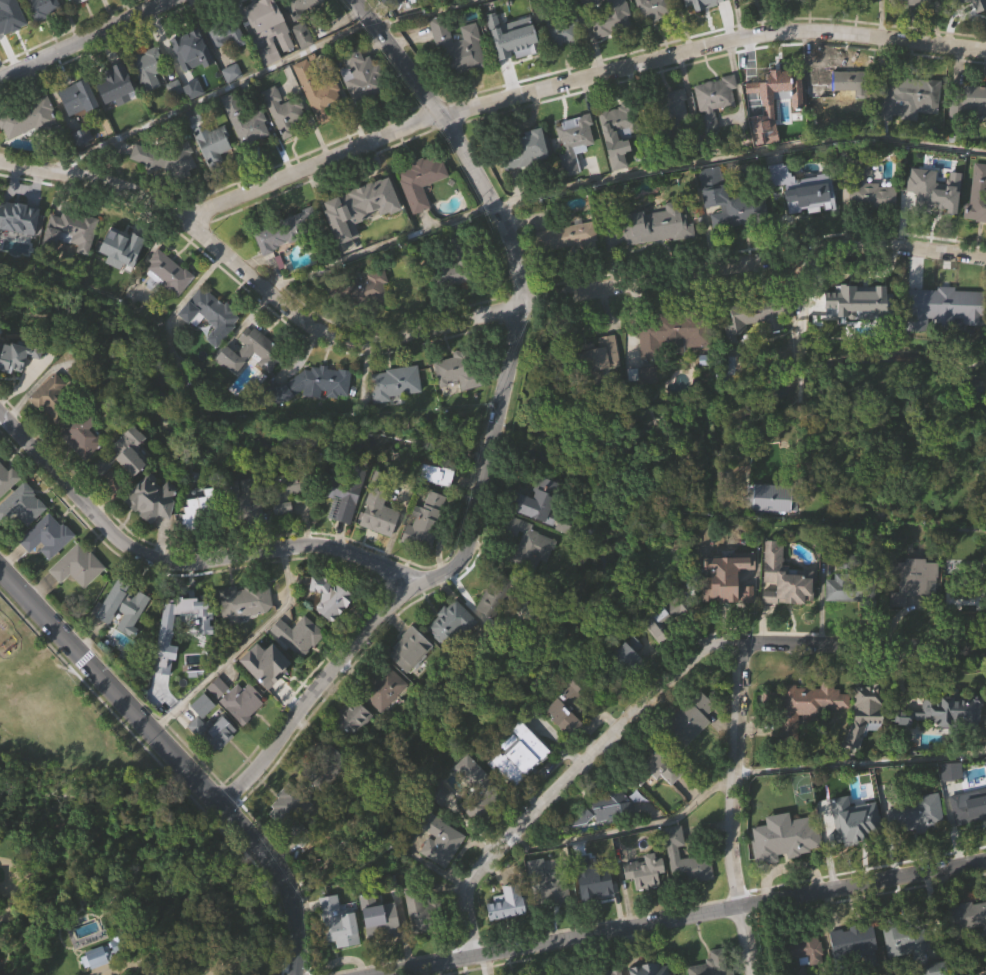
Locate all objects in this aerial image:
building: (752, 0)
building: (76, 2)
building: (918, 2)
building: (388, 5)
building: (509, 5)
building: (115, 6)
building: (300, 7)
building: (428, 7)
building: (694, 7)
building: (980, 7)
building: (41, 8)
building: (654, 9)
building: (809, 10)
building: (867, 13)
building: (78, 16)
building: (909, 16)
building: (610, 17)
building: (263, 21)
building: (586, 21)
building: (963, 21)
building: (10, 22)
building: (40, 28)
building: (558, 28)
building: (305, 29)
building: (655, 33)
building: (227, 35)
building: (516, 39)
building: (11, 42)
building: (612, 42)
road: (93, 43)
building: (187, 44)
building: (266, 45)
building: (457, 47)
building: (561, 60)
building: (228, 64)
building: (148, 67)
building: (513, 67)
road: (249, 73)
building: (362, 76)
building: (459, 76)
building: (192, 78)
road: (574, 80)
building: (842, 83)
building: (116, 86)
building: (318, 91)
building: (779, 91)
building: (908, 95)
building: (77, 97)
building: (150, 97)
building: (973, 99)
building: (714, 102)
building: (360, 104)
building: (671, 109)
building: (283, 111)
building: (842, 113)
building: (118, 114)
building: (176, 116)
building: (28, 118)
building: (194, 118)
building: (319, 120)
building: (246, 121)
building: (79, 126)
building: (715, 128)
building: (909, 128)
building: (618, 129)
building: (969, 129)
building: (675, 137)
building: (286, 141)
building: (575, 142)
building: (212, 143)
building: (30, 147)
building: (525, 149)
building: (246, 150)
building: (165, 158)
building: (83, 164)
building: (617, 164)
building: (575, 171)
building: (214, 172)
road: (617, 177)
building: (421, 181)
building: (527, 182)
building: (166, 186)
building: (868, 190)
building: (810, 194)
building: (977, 196)
building: (357, 200)
building: (732, 202)
building: (422, 210)
building: (20, 215)
building: (802, 216)
building: (870, 219)
building: (935, 219)
building: (655, 225)
building: (977, 225)
building: (70, 232)
building: (278, 234)
building: (734, 236)
building: (360, 237)
building: (567, 237)
building: (5, 245)
building: (123, 255)
building: (658, 255)
building: (71, 261)
building: (279, 266)
building: (568, 267)
building: (169, 273)
building: (445, 274)
building: (123, 277)
building: (364, 288)
building: (170, 302)
building: (858, 308)
building: (947, 308)
building: (209, 310)
road: (469, 316)
building: (758, 318)
building: (361, 319)
building: (674, 332)
building: (943, 336)
building: (759, 343)
building: (211, 344)
building: (20, 352)
building: (255, 352)
building: (596, 357)
building: (670, 366)
building: (460, 371)
building: (253, 380)
building: (395, 383)
building: (16, 385)
building: (314, 385)
building: (601, 385)
building: (63, 395)
building: (456, 399)
building: (649, 404)
building: (395, 412)
building: (313, 413)
road: (498, 433)
building: (84, 435)
building: (124, 451)
building: (83, 465)
building: (437, 473)
building: (7, 477)
building: (131, 479)
building: (285, 489)
building: (344, 489)
building: (149, 497)
building: (537, 499)
building: (243, 500)
building: (22, 504)
building: (380, 505)
building: (202, 509)
building: (286, 516)
building: (425, 521)
building: (344, 526)
building: (153, 527)
building: (249, 527)
building: (539, 530)
building: (23, 534)
building: (47, 536)
building: (199, 537)
building: (284, 537)
building: (528, 542)
building: (381, 545)
building: (426, 550)
building: (48, 565)
building: (77, 565)
road: (182, 565)
building: (734, 570)
building: (530, 573)
building: (788, 578)
building: (910, 579)
building: (849, 582)
building: (968, 586)
building: (79, 594)
building: (501, 595)
building: (329, 596)
building: (244, 601)
building: (123, 604)
building: (729, 607)
building: (786, 607)
building: (915, 609)
building: (190, 613)
building: (848, 620)
building: (659, 624)
building: (330, 626)
building: (965, 626)
building: (453, 627)
building: (245, 631)
building: (494, 631)
building: (298, 634)
building: (125, 635)
building: (667, 647)
building: (409, 648)
road: (238, 649)
building: (451, 651)
building: (626, 660)
building: (299, 664)
building: (265, 665)
building: (167, 668)
building: (411, 679)
building: (630, 681)
building: (382, 687)
road: (109, 689)
road: (659, 691)
building: (267, 692)
building: (236, 699)
building: (571, 705)
building: (805, 708)
building: (867, 710)
building: (949, 712)
building: (219, 716)
building: (385, 717)
building: (349, 719)
building: (689, 720)
building: (243, 731)
building: (213, 732)
building: (807, 734)
building: (566, 739)
building: (866, 740)
building: (946, 740)
building: (354, 746)
building: (692, 748)
building: (522, 755)
building: (215, 759)
road: (861, 763)
building: (323, 765)
building: (664, 767)
building: (952, 771)
building: (521, 783)
building: (477, 789)
building: (660, 796)
building: (443, 797)
building: (289, 805)
road: (732, 808)
building: (603, 809)
building: (968, 809)
building: (917, 814)
building: (854, 819)
road: (627, 826)
building: (968, 834)
building: (285, 835)
building: (603, 837)
building: (787, 838)
building: (440, 840)
building: (918, 845)
building: (854, 849)
building: (686, 860)
building: (441, 868)
building: (646, 871)
building: (593, 879)
building: (548, 884)
road: (278, 885)
building: (687, 888)
building: (646, 900)
building: (509, 903)
building: (424, 910)
building: (548, 910)
building: (596, 912)
building: (379, 917)
road: (682, 917)
building: (968, 917)
building: (339, 923)
building: (509, 934)
building: (905, 938)
building: (419, 941)
building: (856, 944)
building: (967, 944)
building: (380, 946)
building: (340, 951)
building: (802, 952)
road: (252, 961)
building: (712, 965)
building: (854, 965)
building: (910, 965)
building: (654, 968)
building: (805, 970)
building: (609, 972)
building: (109, 974)
road: (984, 974)

